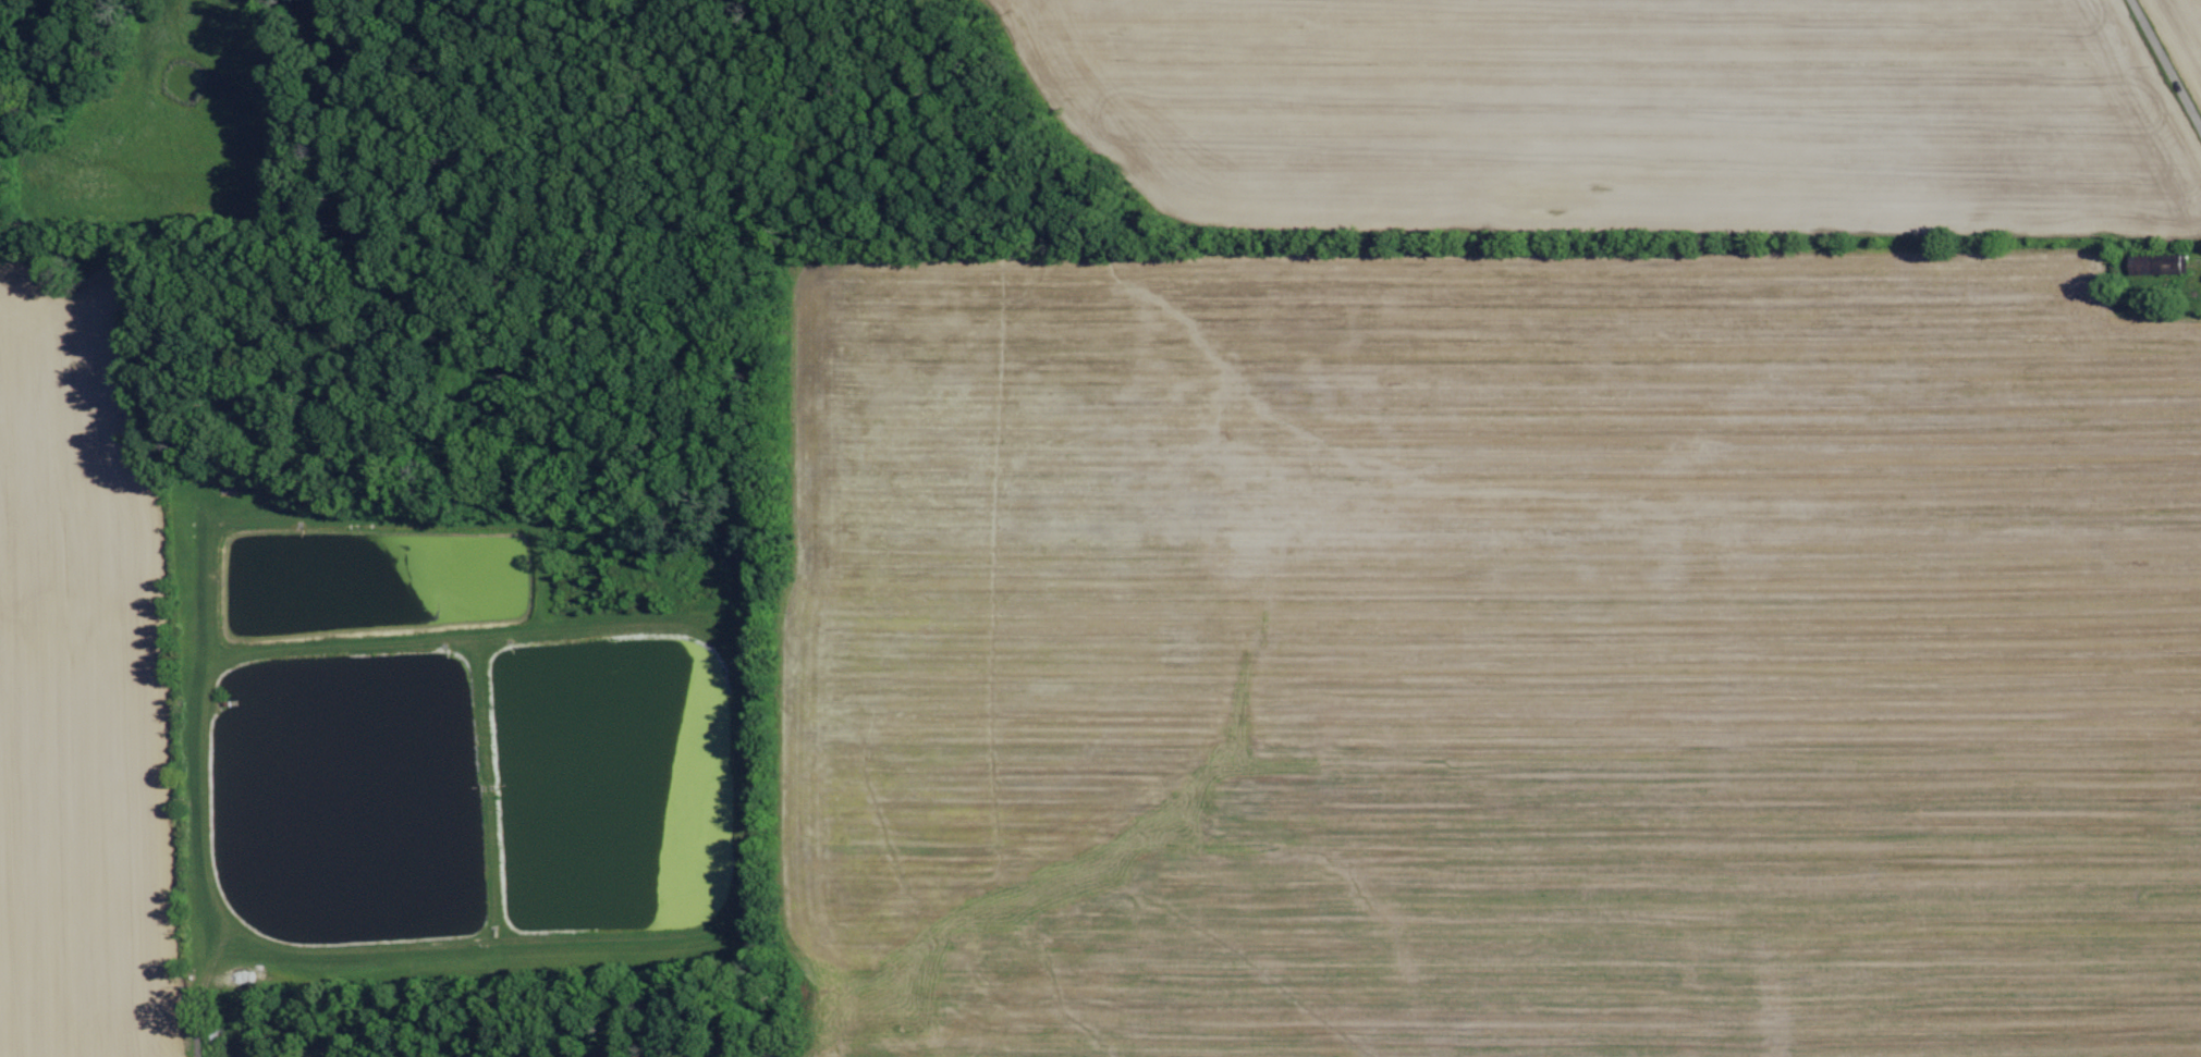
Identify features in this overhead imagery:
road: (2167, 62)

